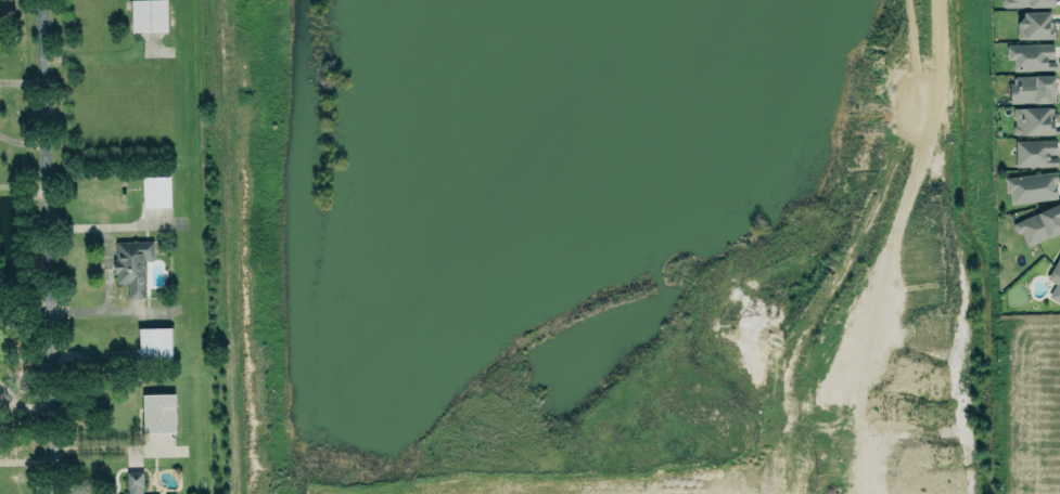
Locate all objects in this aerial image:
building: (1025, 2)
building: (148, 15)
building: (1034, 25)
building: (1031, 56)
road: (22, 80)
building: (1032, 88)
building: (1032, 120)
road: (22, 143)
building: (1034, 152)
building: (1031, 186)
building: (155, 190)
building: (1039, 224)
road: (104, 244)
road: (48, 247)
airport taxiway: (188, 247)
building: (131, 264)
building: (1055, 279)
road: (104, 309)
building: (154, 342)
building: (157, 412)
road: (113, 445)
road: (26, 455)
building: (133, 482)

